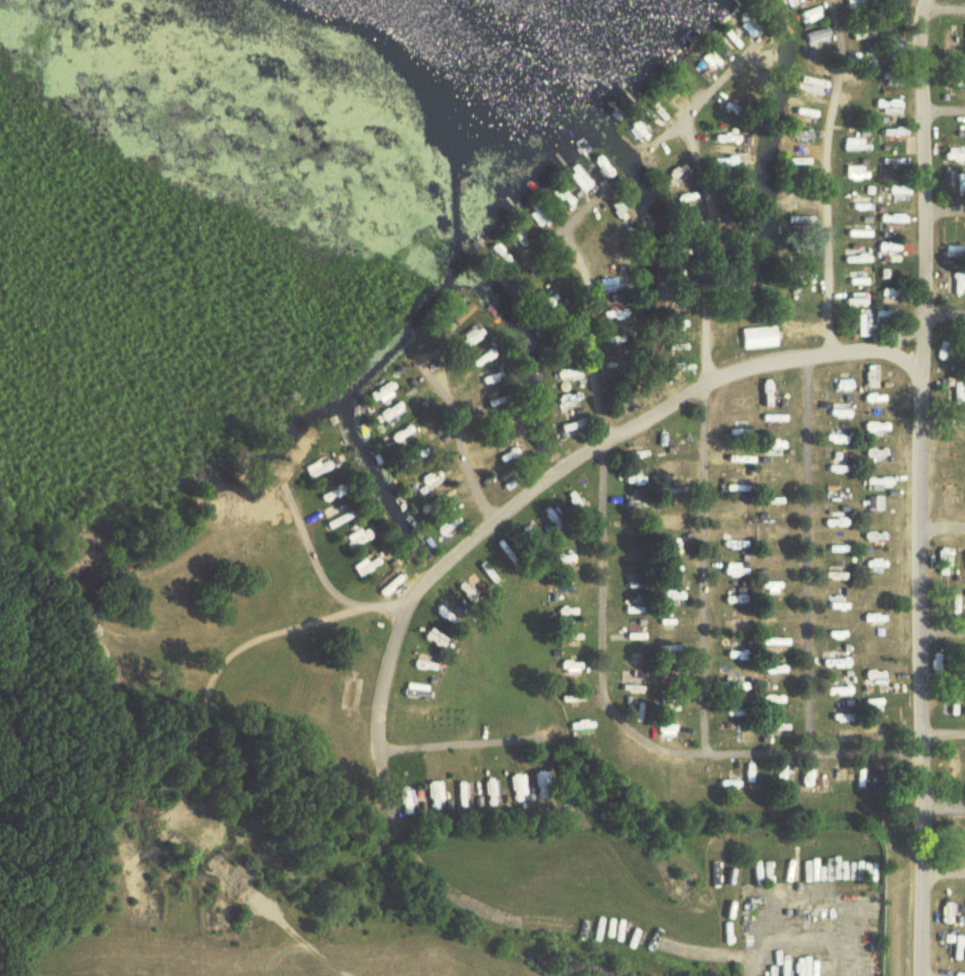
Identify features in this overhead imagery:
building: (850, 3)
road: (943, 11)
building: (862, 36)
building: (813, 39)
building: (947, 46)
building: (890, 78)
building: (957, 84)
road: (943, 110)
building: (796, 135)
building: (721, 139)
building: (851, 146)
building: (950, 153)
building: (720, 168)
building: (795, 169)
building: (851, 173)
road: (823, 175)
building: (954, 181)
road: (944, 210)
road: (576, 211)
building: (851, 232)
building: (950, 251)
building: (887, 274)
road: (944, 316)
building: (460, 318)
building: (860, 326)
building: (754, 337)
building: (378, 395)
road: (944, 423)
building: (566, 428)
road: (702, 434)
road: (456, 437)
building: (319, 469)
building: (432, 477)
road: (923, 487)
building: (323, 494)
building: (954, 494)
road: (944, 528)
building: (352, 538)
road: (807, 556)
building: (945, 562)
building: (364, 566)
road: (321, 576)
building: (387, 584)
building: (627, 609)
road: (406, 617)
road: (943, 631)
building: (770, 670)
road: (215, 674)
building: (629, 688)
road: (630, 731)
road: (943, 733)
road: (462, 745)
building: (539, 786)
building: (515, 788)
building: (433, 791)
building: (490, 794)
road: (943, 807)
road: (942, 874)
road: (797, 905)

